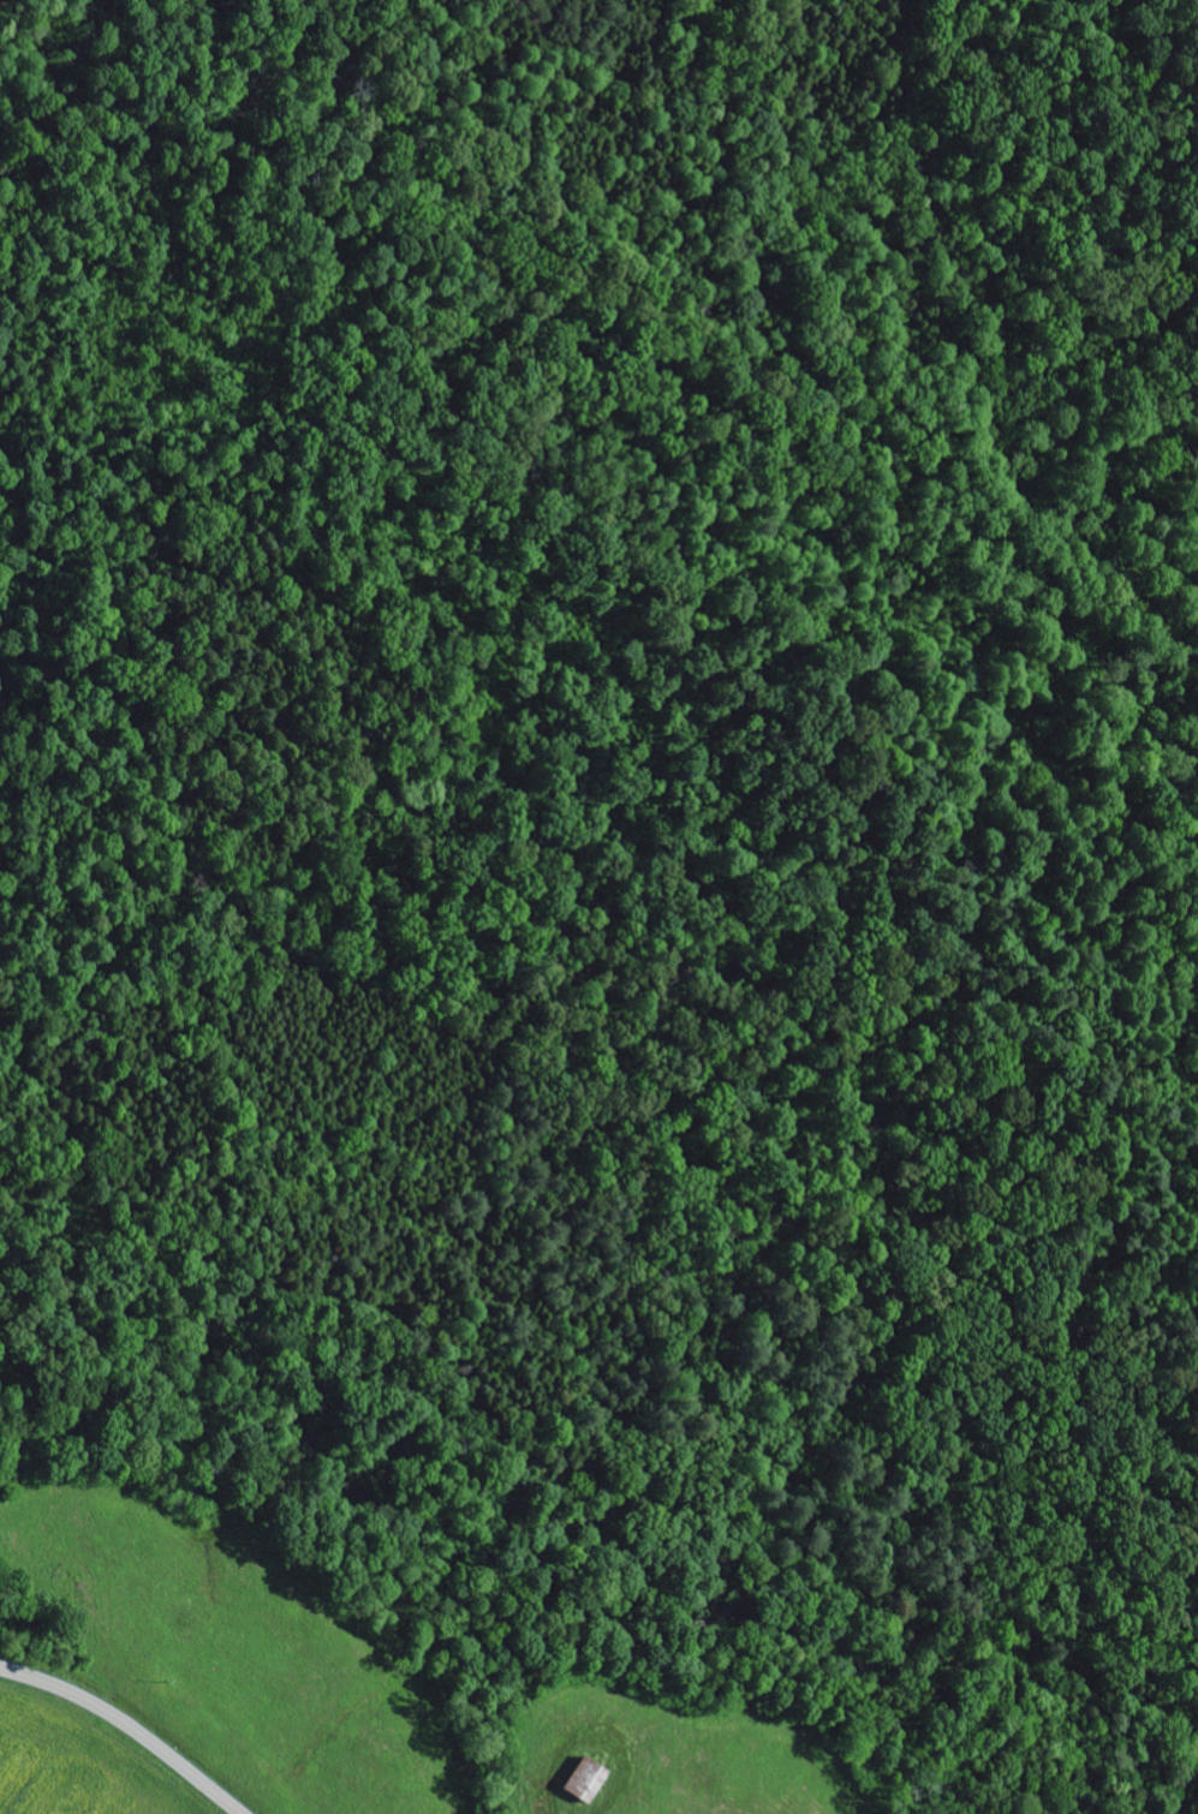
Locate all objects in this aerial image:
river: (14, 10)
road: (1148, 1690)
road: (129, 1726)
building: (584, 1782)

